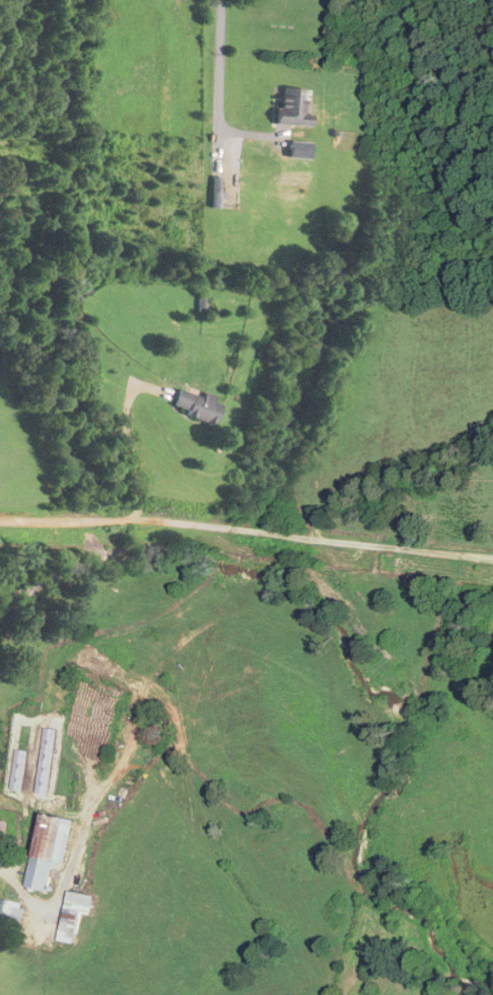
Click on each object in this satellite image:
road: (218, 66)
building: (293, 109)
building: (299, 151)
building: (205, 306)
building: (197, 408)
road: (129, 446)
road: (247, 531)
building: (35, 764)
building: (1, 831)
building: (50, 849)
road: (53, 898)
building: (9, 908)
building: (75, 914)

